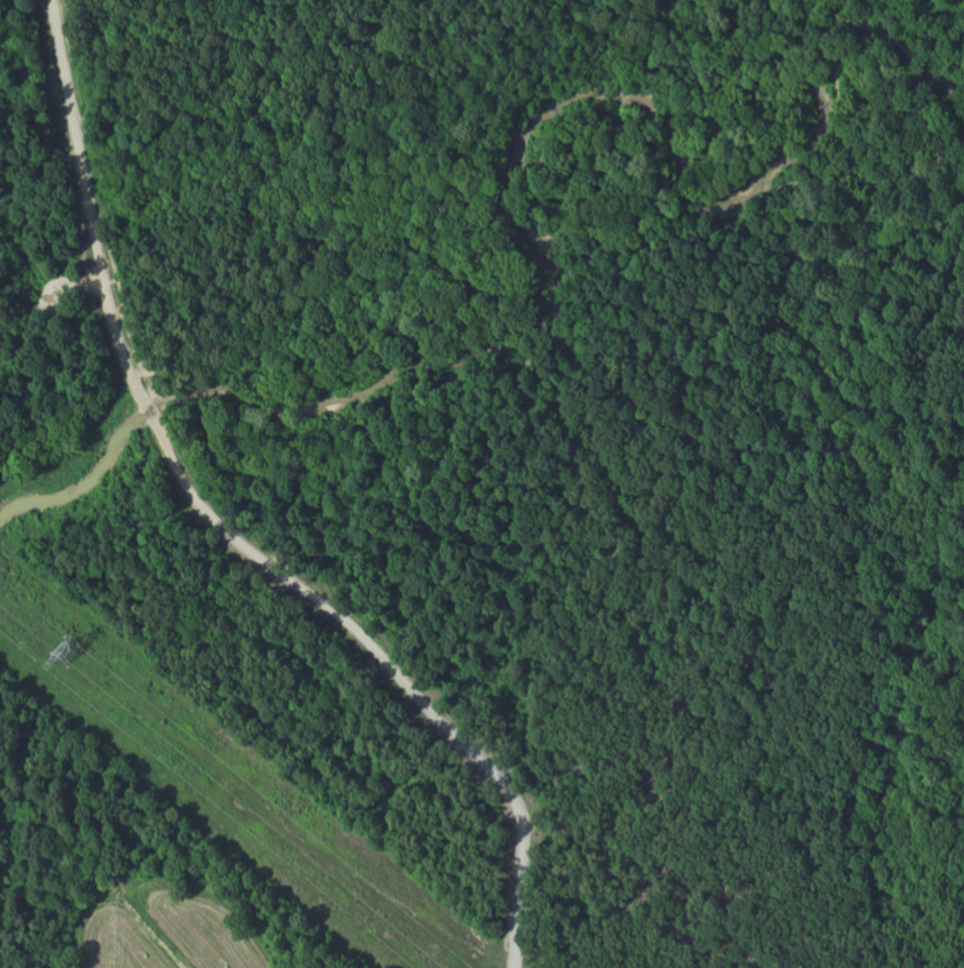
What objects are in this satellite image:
road: (66, 72)
road: (105, 287)
power tower: (66, 657)
road: (389, 671)

